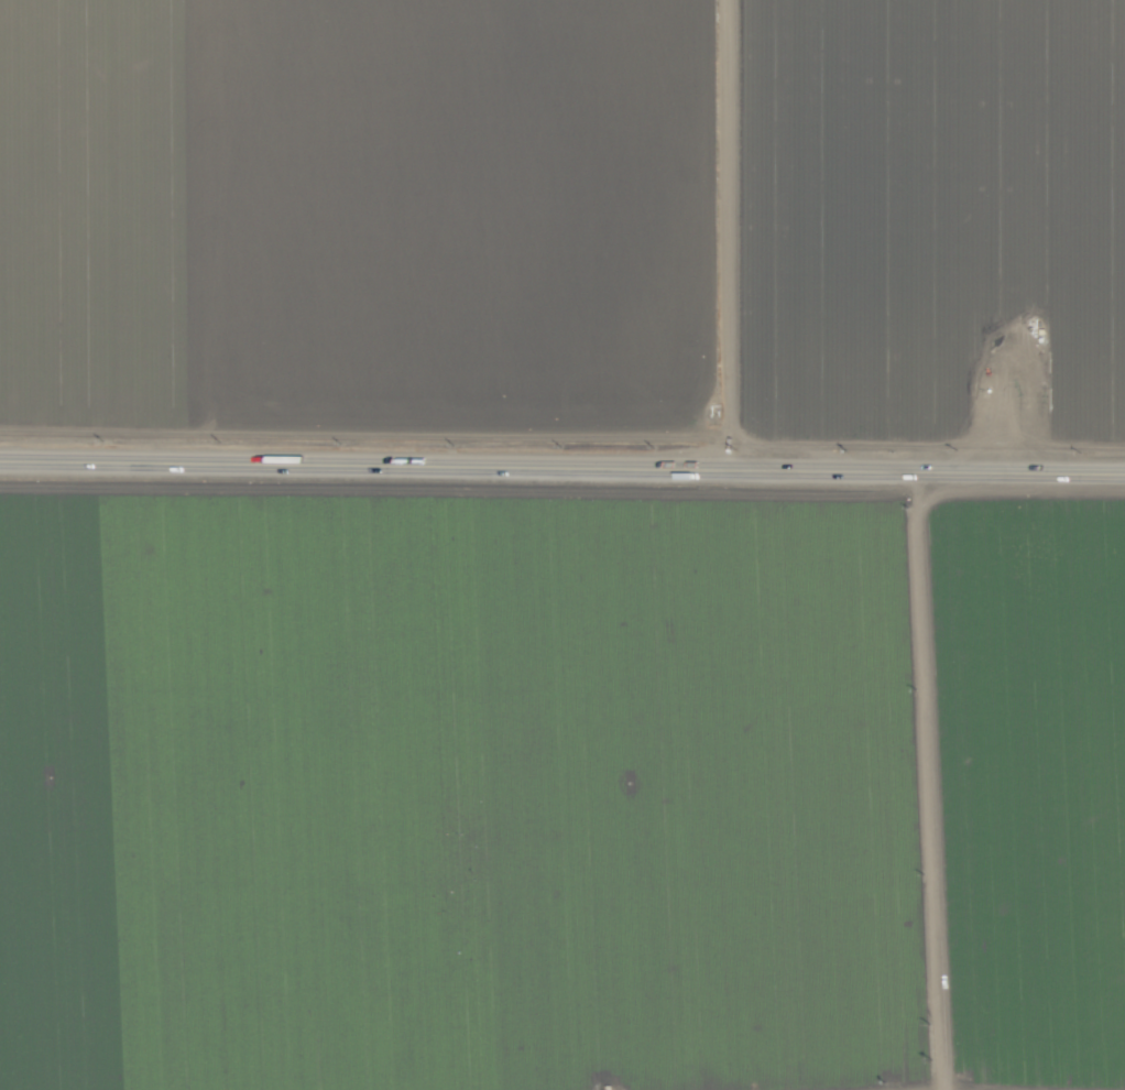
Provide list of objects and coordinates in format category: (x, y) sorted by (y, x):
road: (561, 469)
crop: (561, 544)
road: (914, 781)

